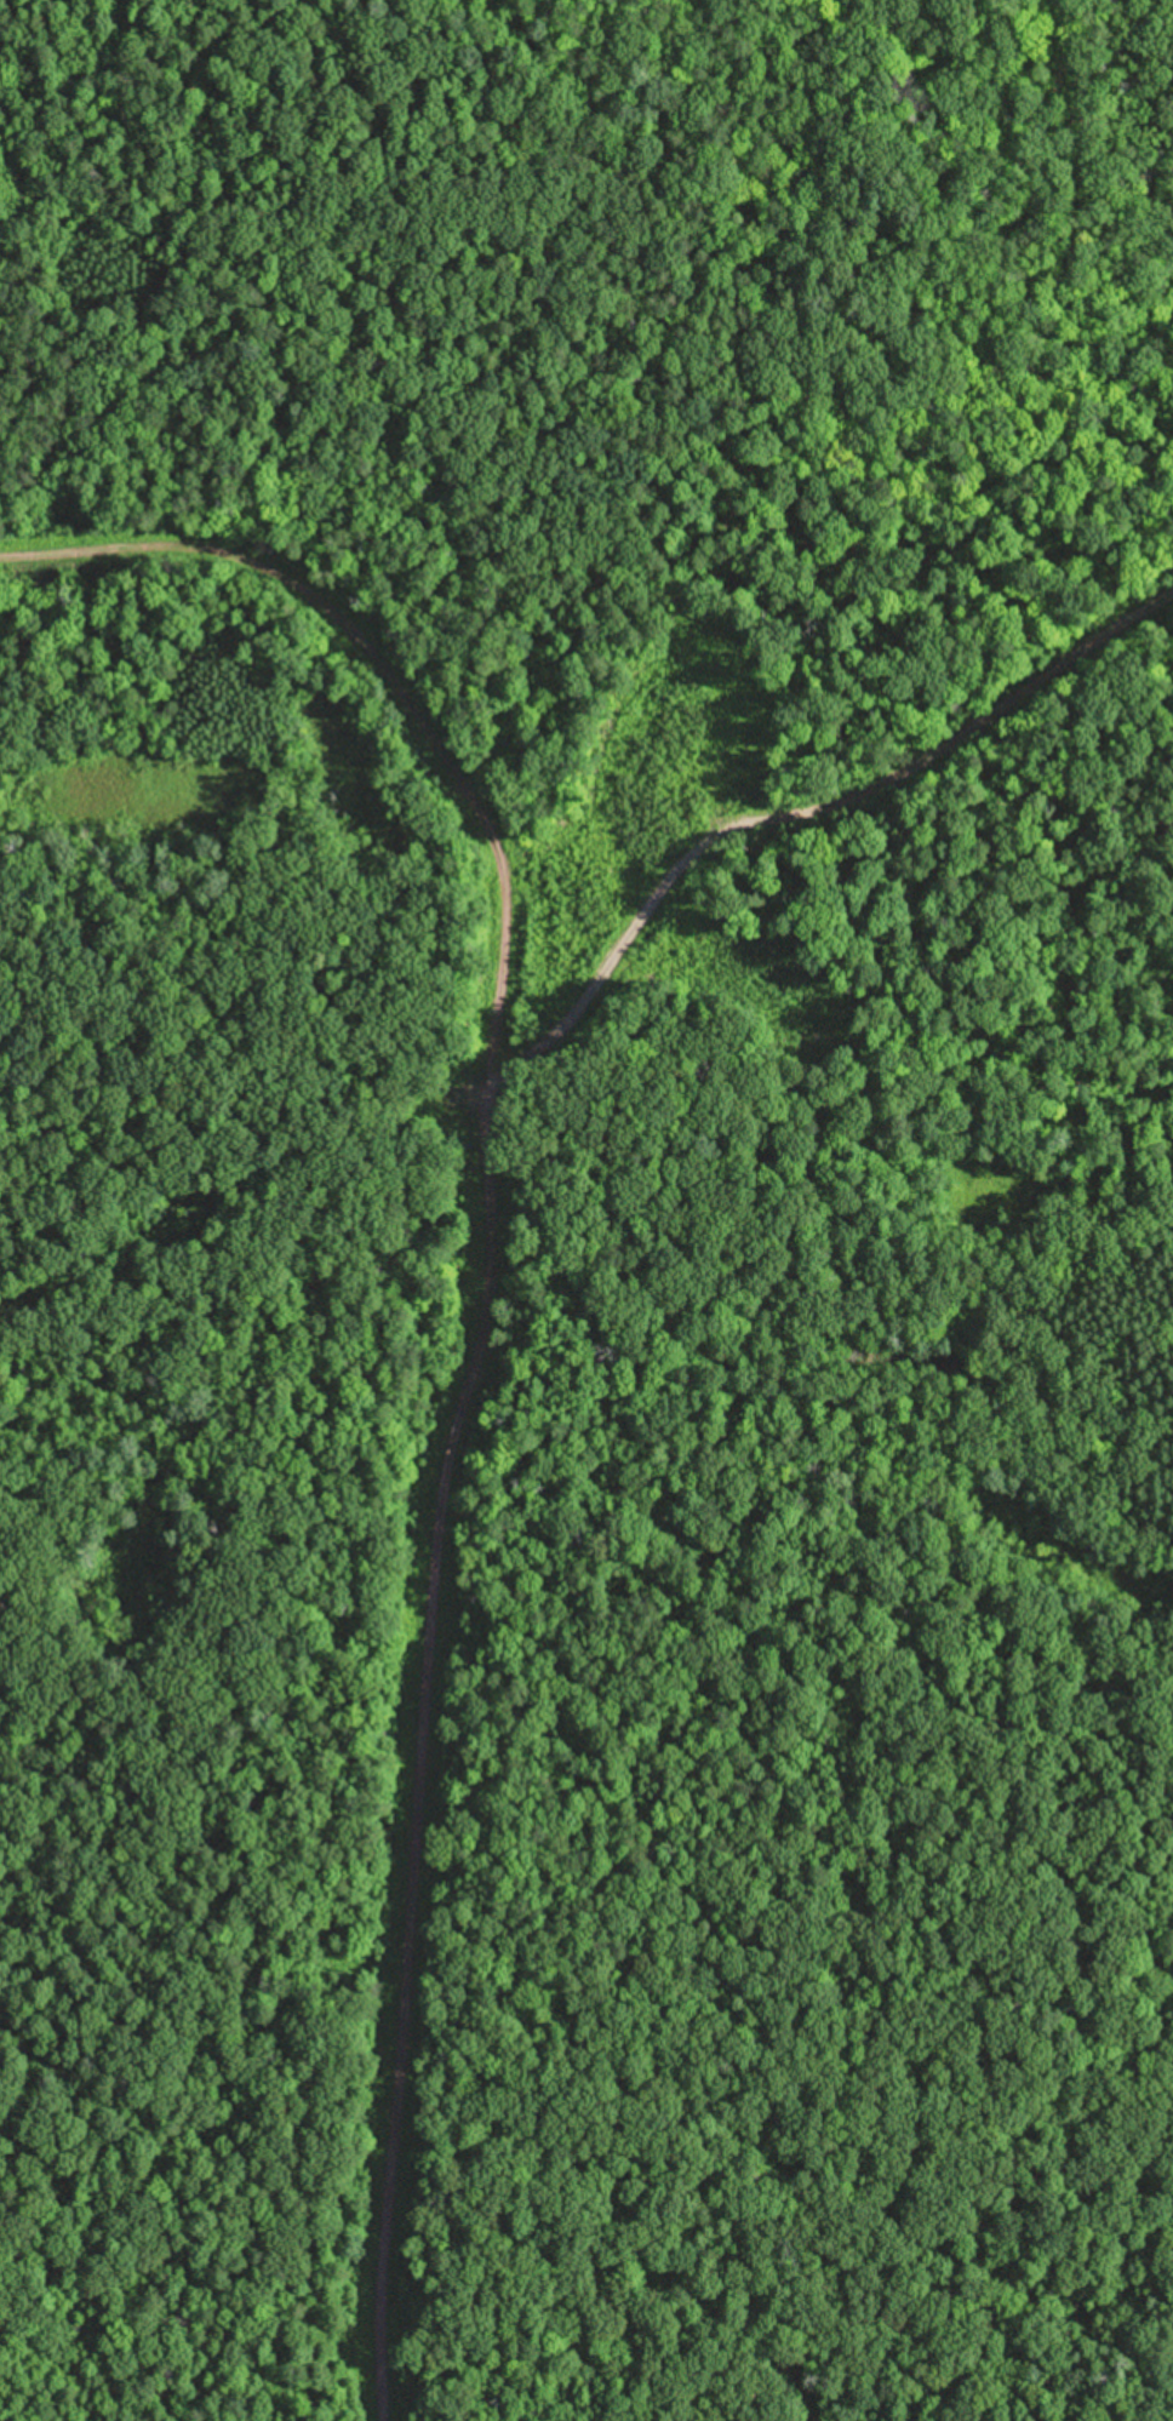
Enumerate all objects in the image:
road: (483, 1317)

